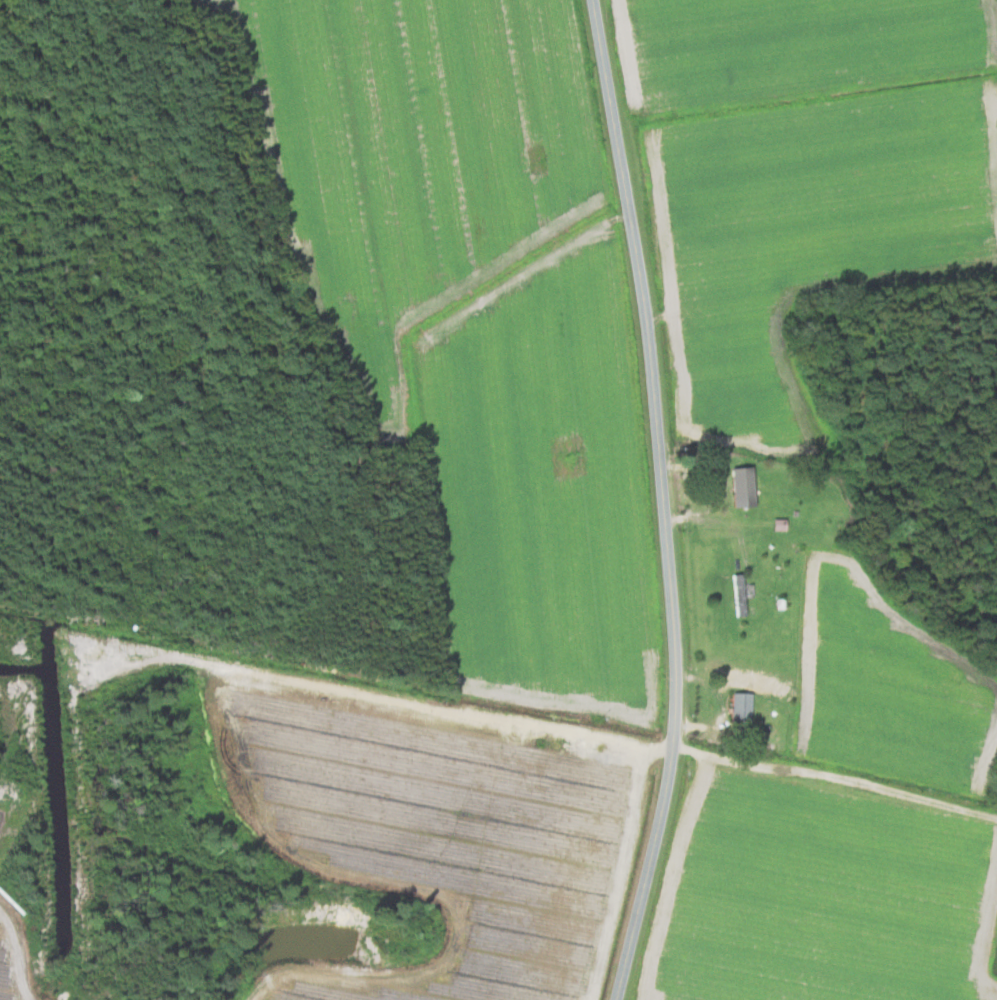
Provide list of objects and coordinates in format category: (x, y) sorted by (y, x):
building: (740, 485)
road: (663, 500)
building: (738, 705)

